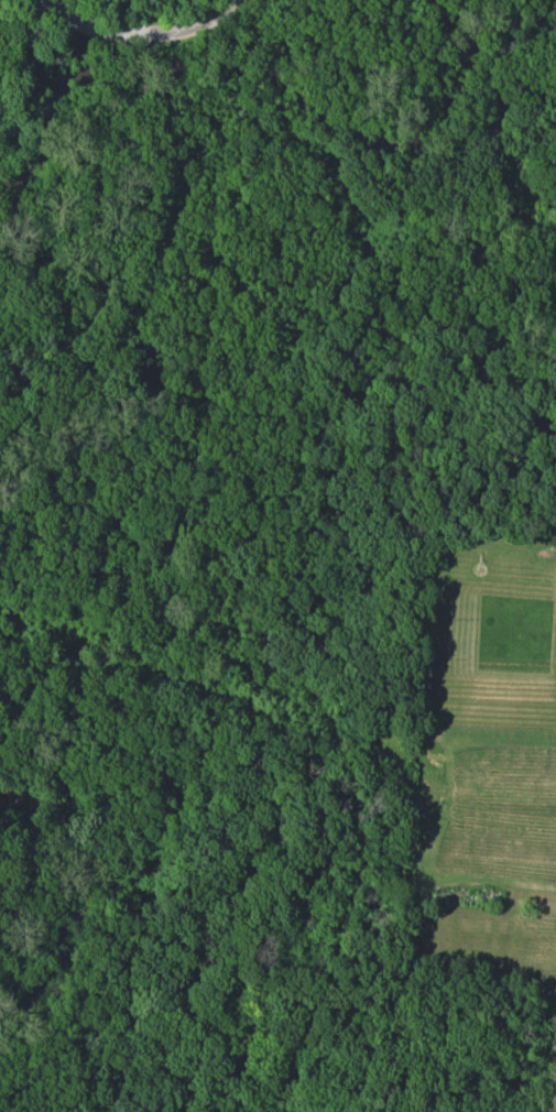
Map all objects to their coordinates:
road: (135, 35)
park: (249, 519)

